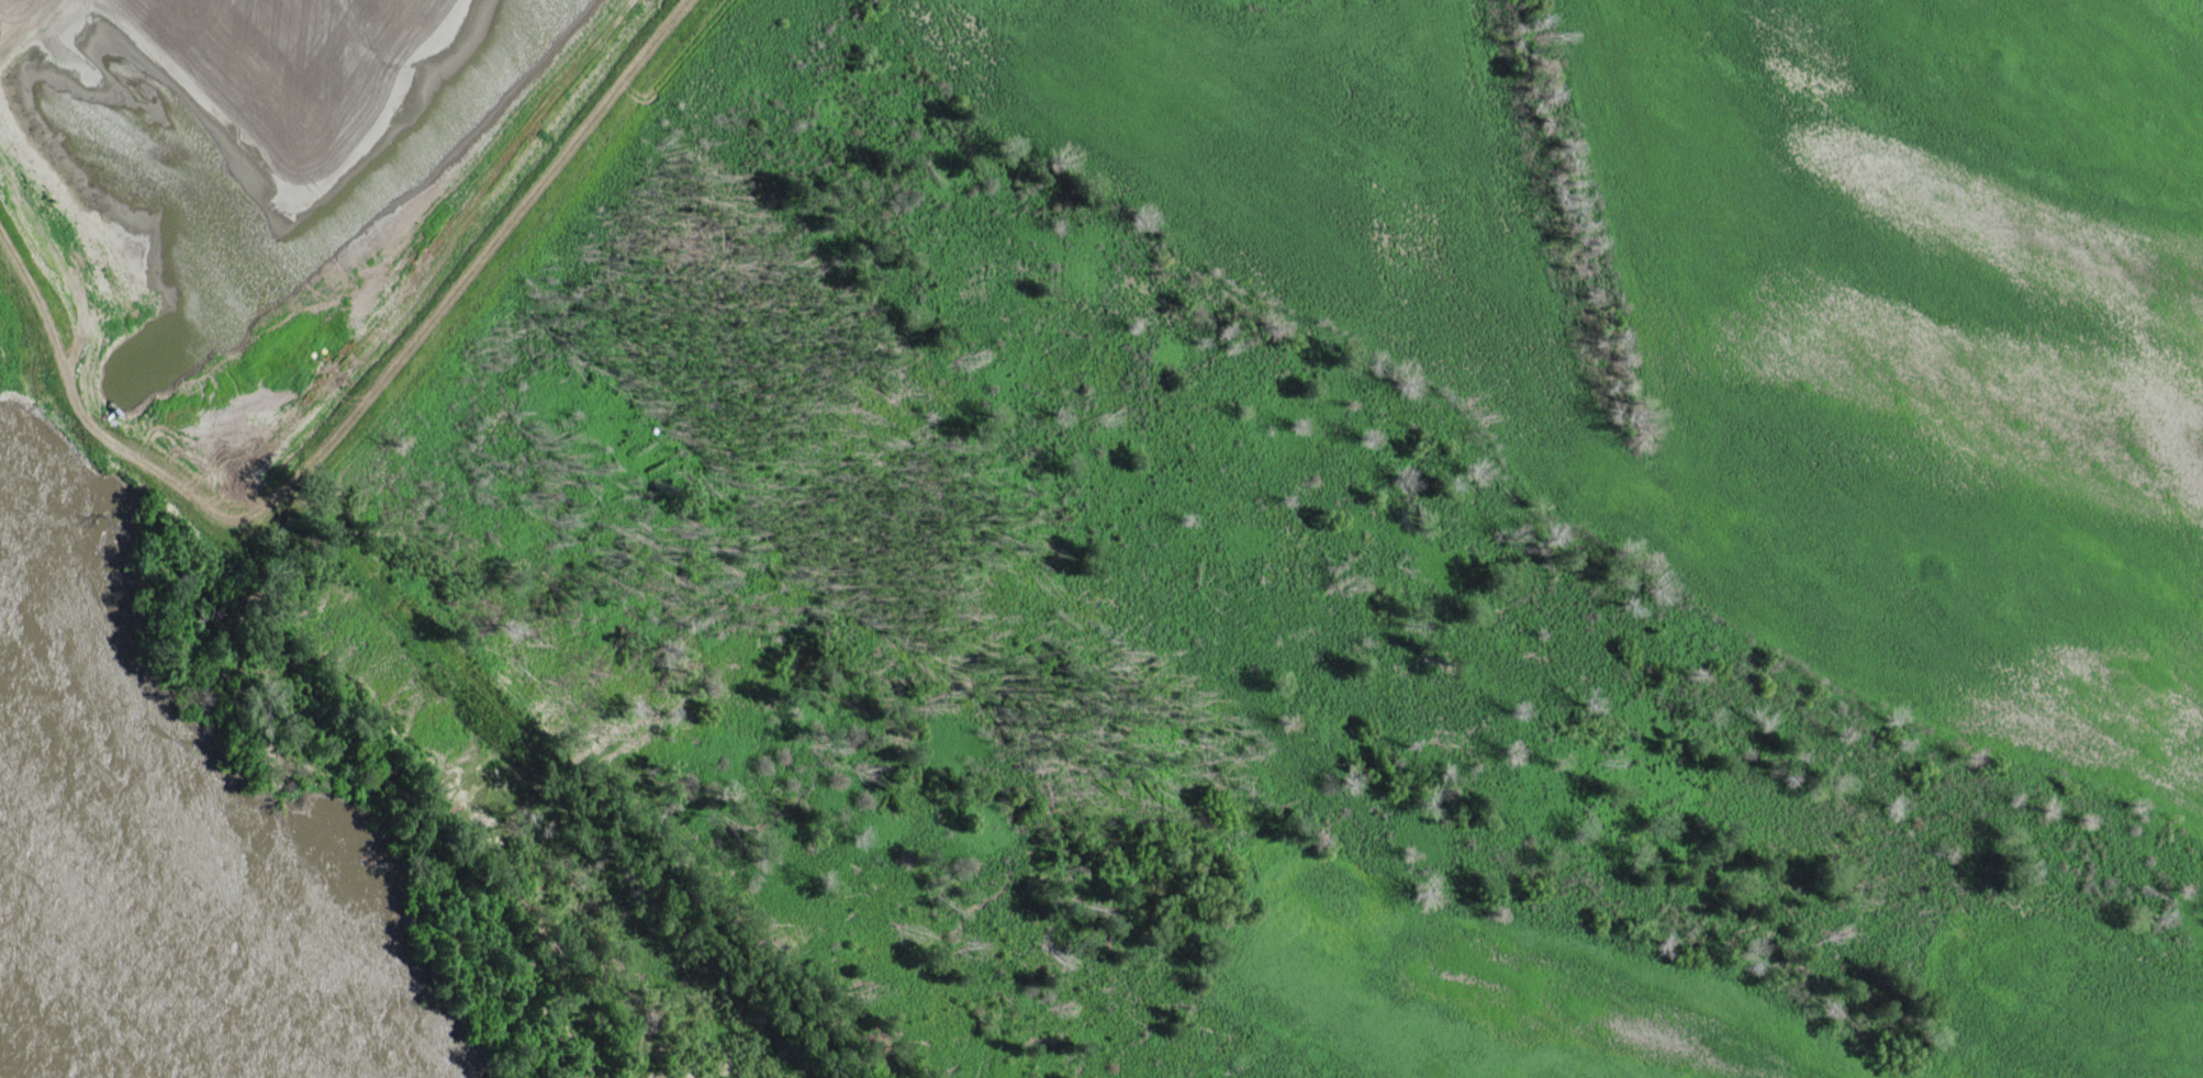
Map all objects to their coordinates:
road: (514, 216)
road: (139, 458)
river: (98, 933)

